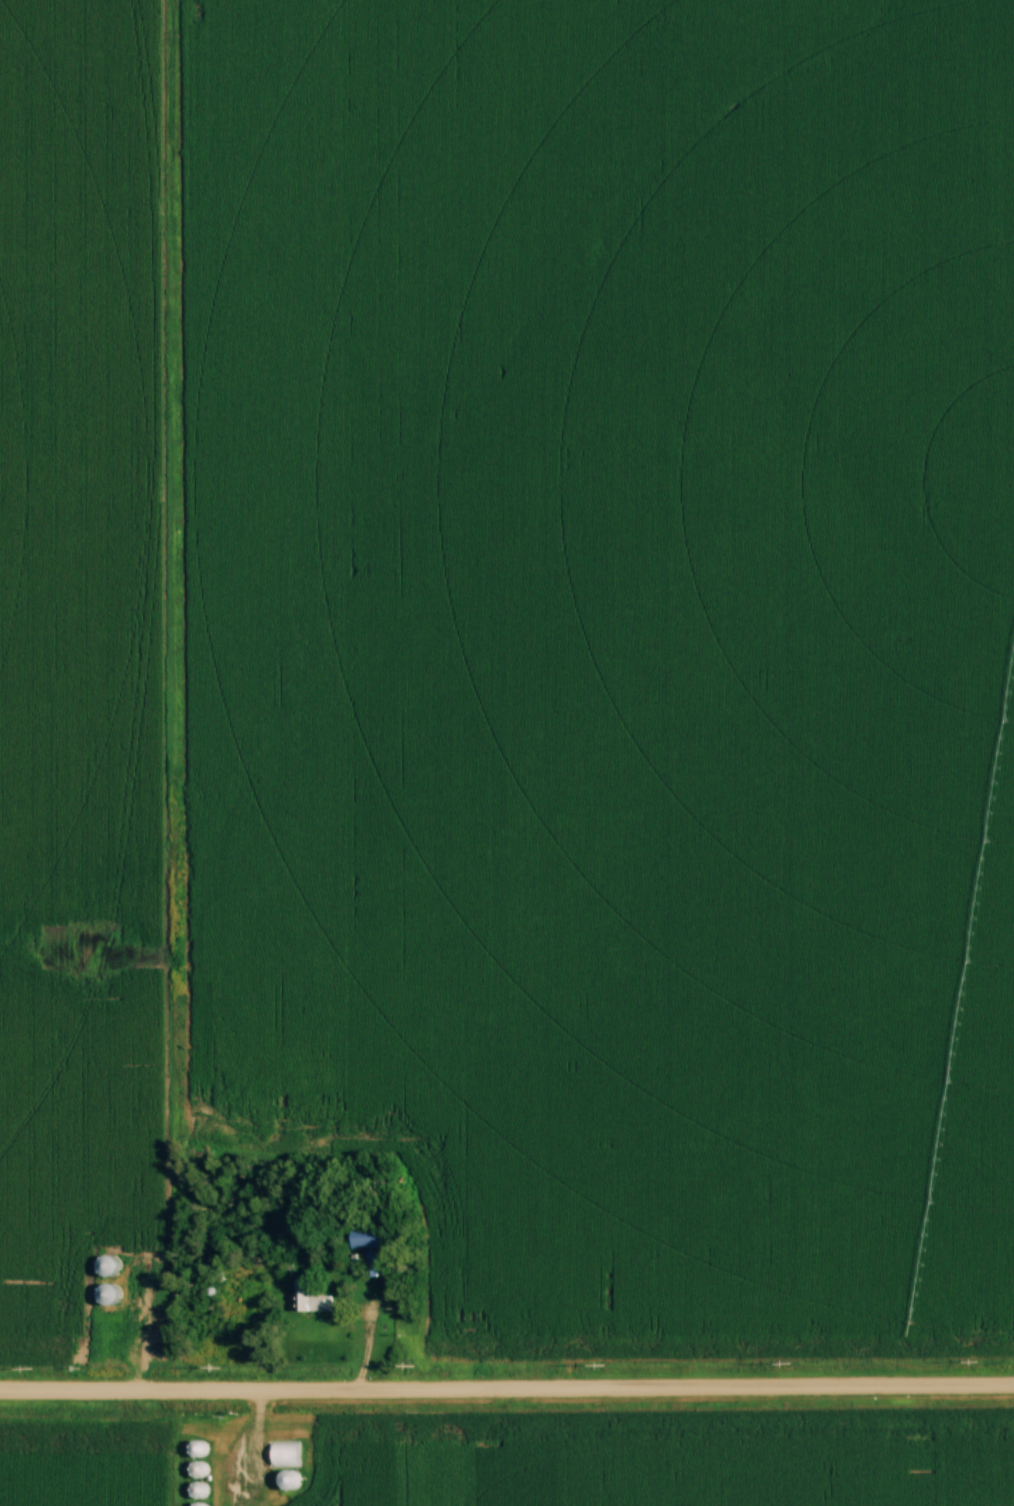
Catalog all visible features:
building: (367, 1237)
building: (364, 1265)
building: (313, 1300)
road: (507, 1392)
building: (284, 1454)

